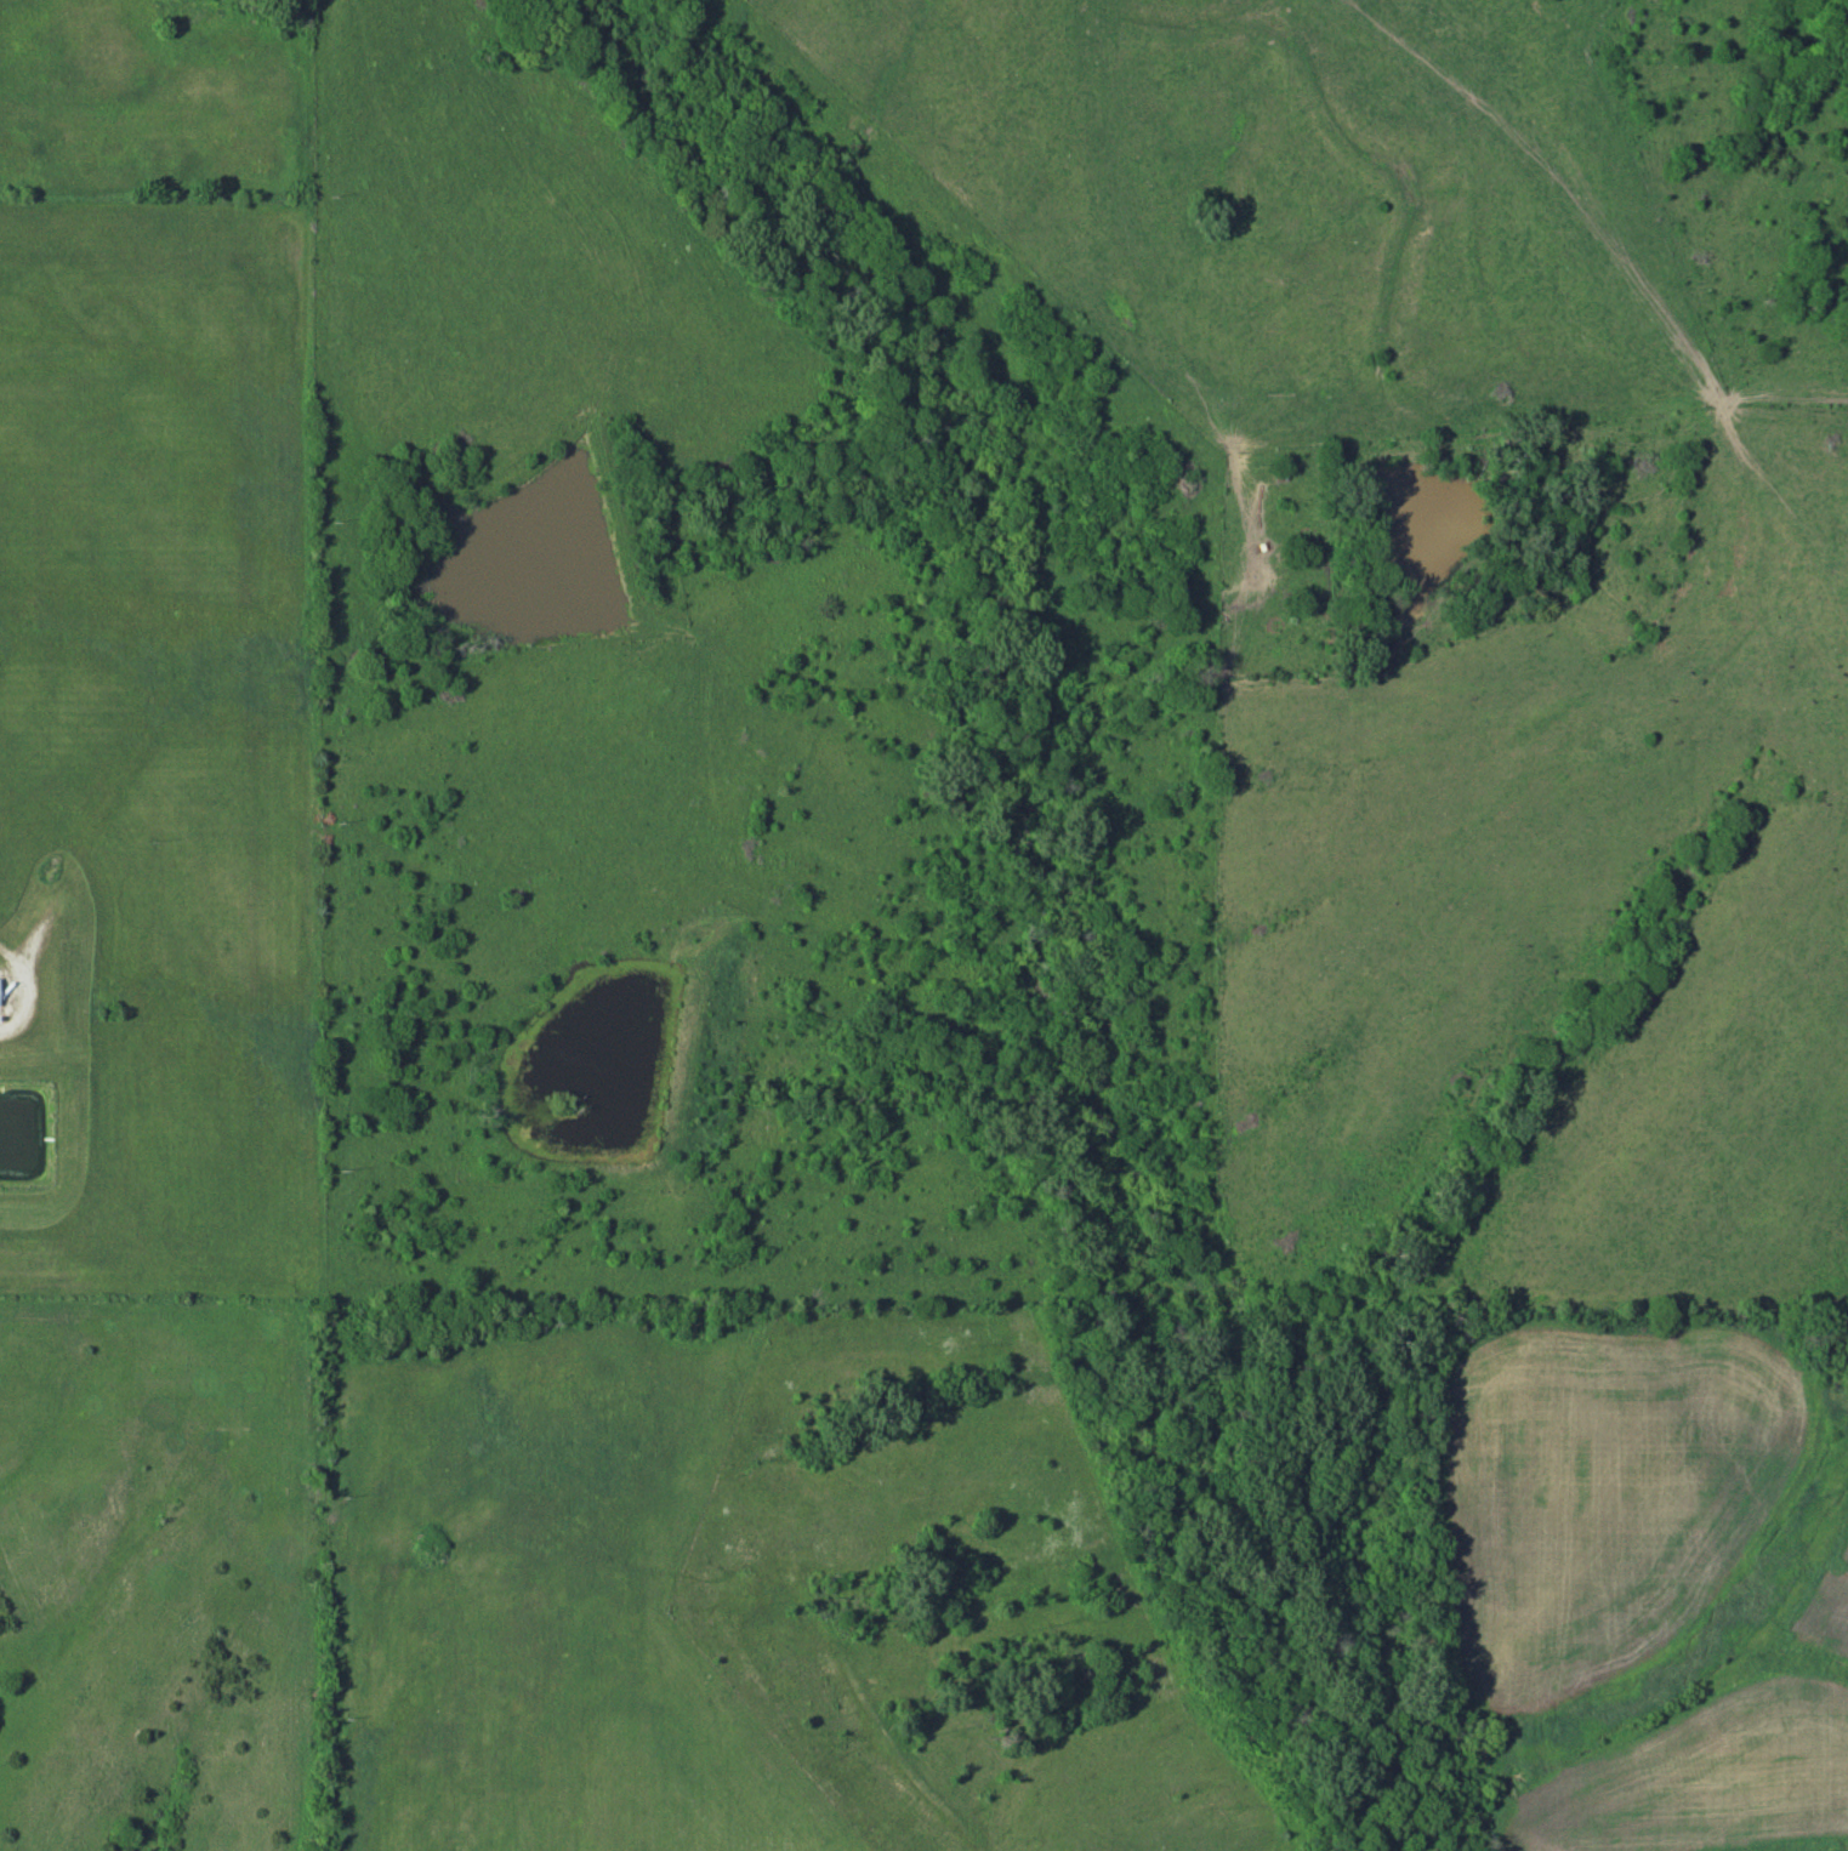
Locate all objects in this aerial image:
building: (0, 991)

